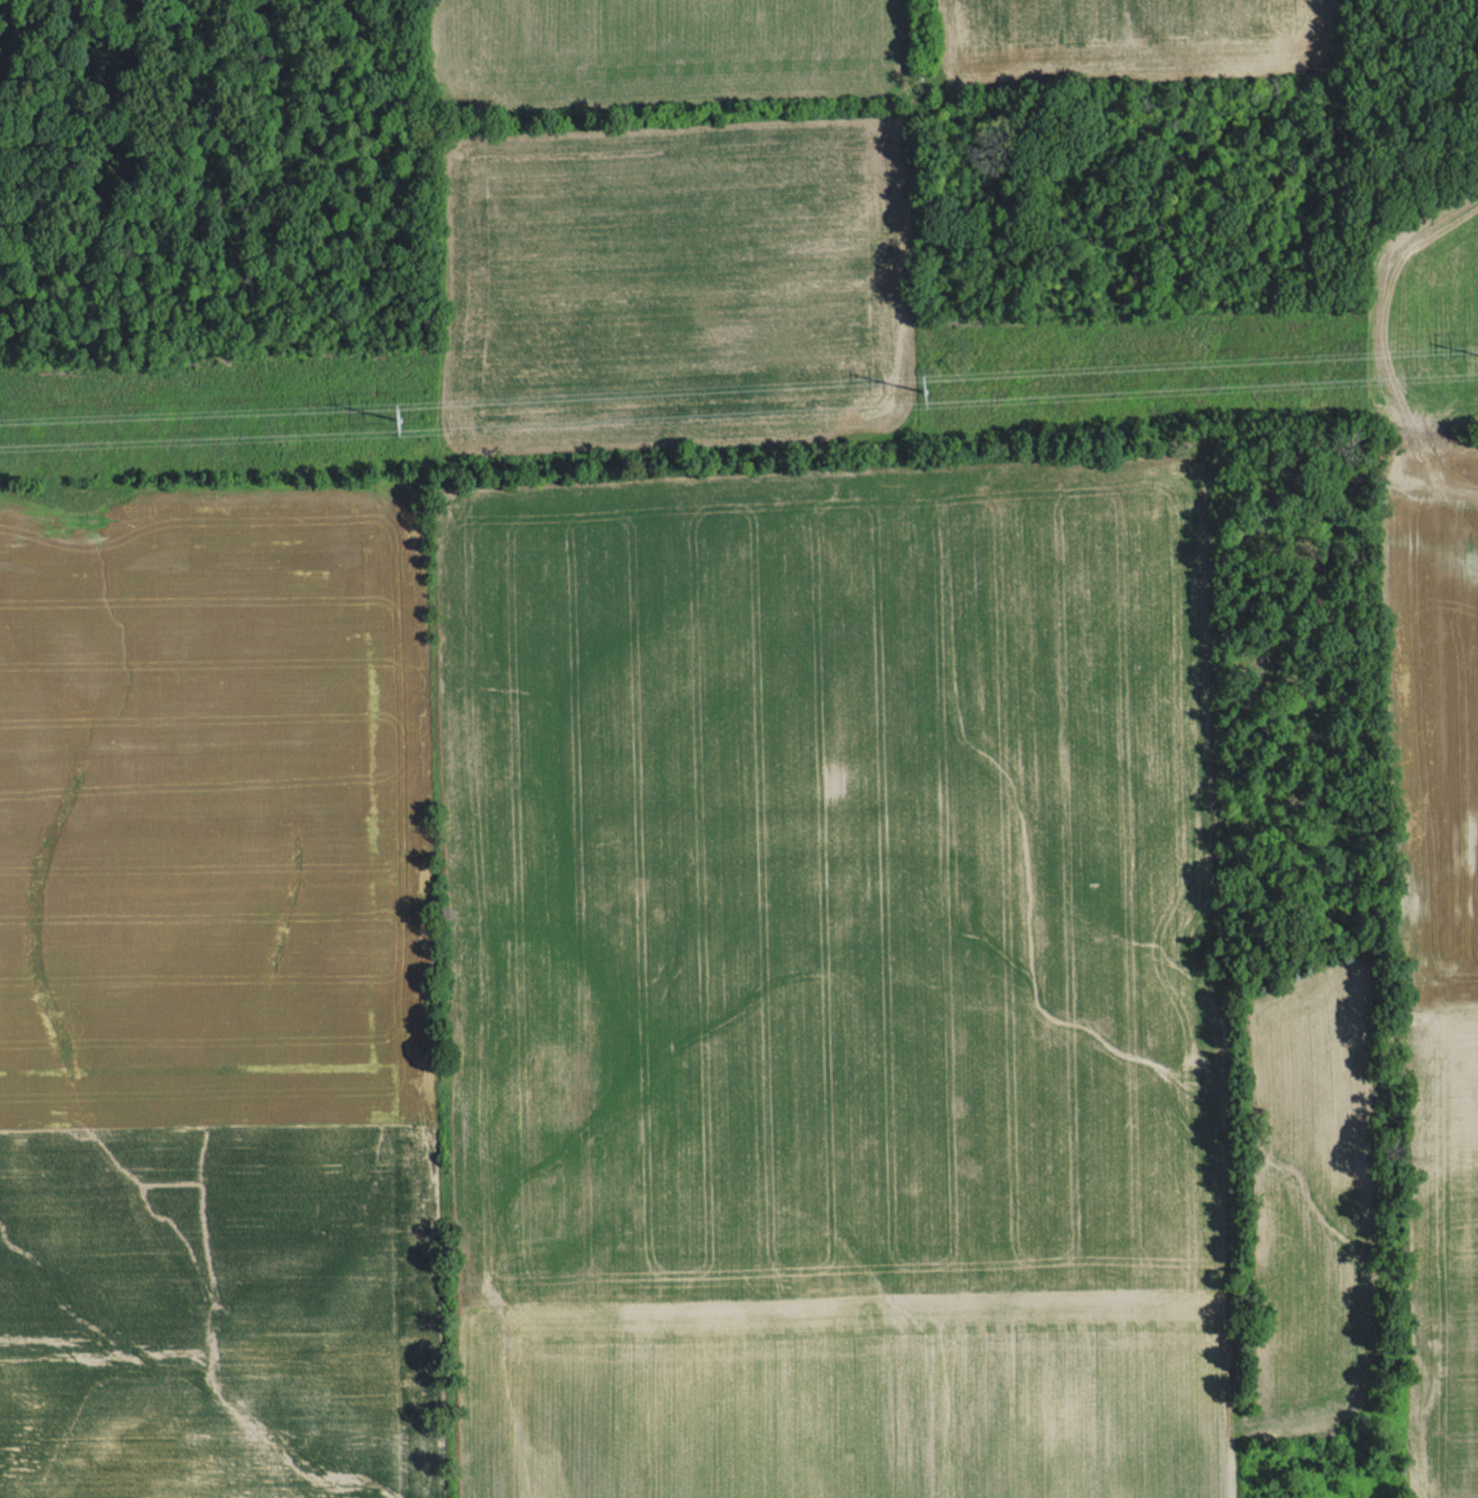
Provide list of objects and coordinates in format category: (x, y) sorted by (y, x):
power tower: (921, 392)
power tower: (399, 422)

